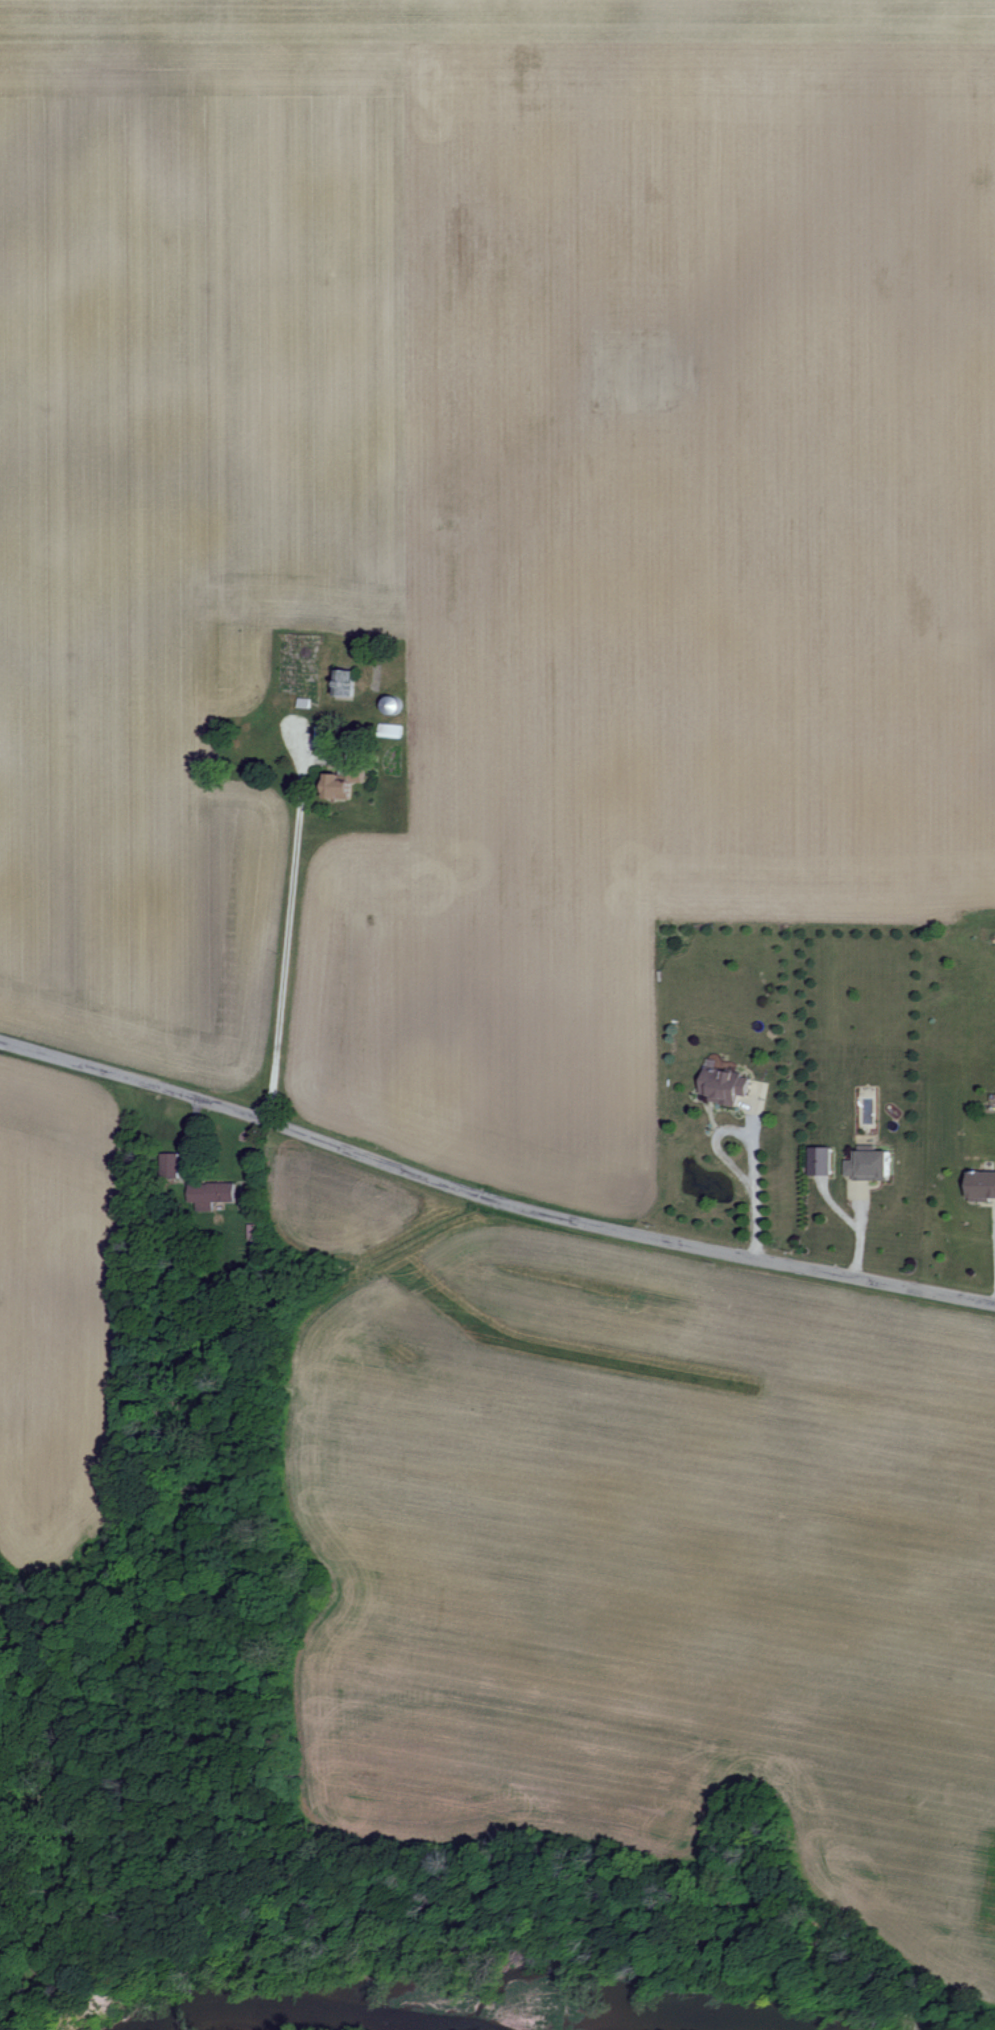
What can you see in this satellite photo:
building: (342, 682)
building: (335, 787)
road: (286, 927)
building: (722, 1085)
road: (715, 1150)
building: (819, 1159)
building: (868, 1163)
building: (168, 1164)
road: (752, 1172)
building: (981, 1184)
building: (208, 1193)
road: (491, 1197)
river: (326, 2010)

